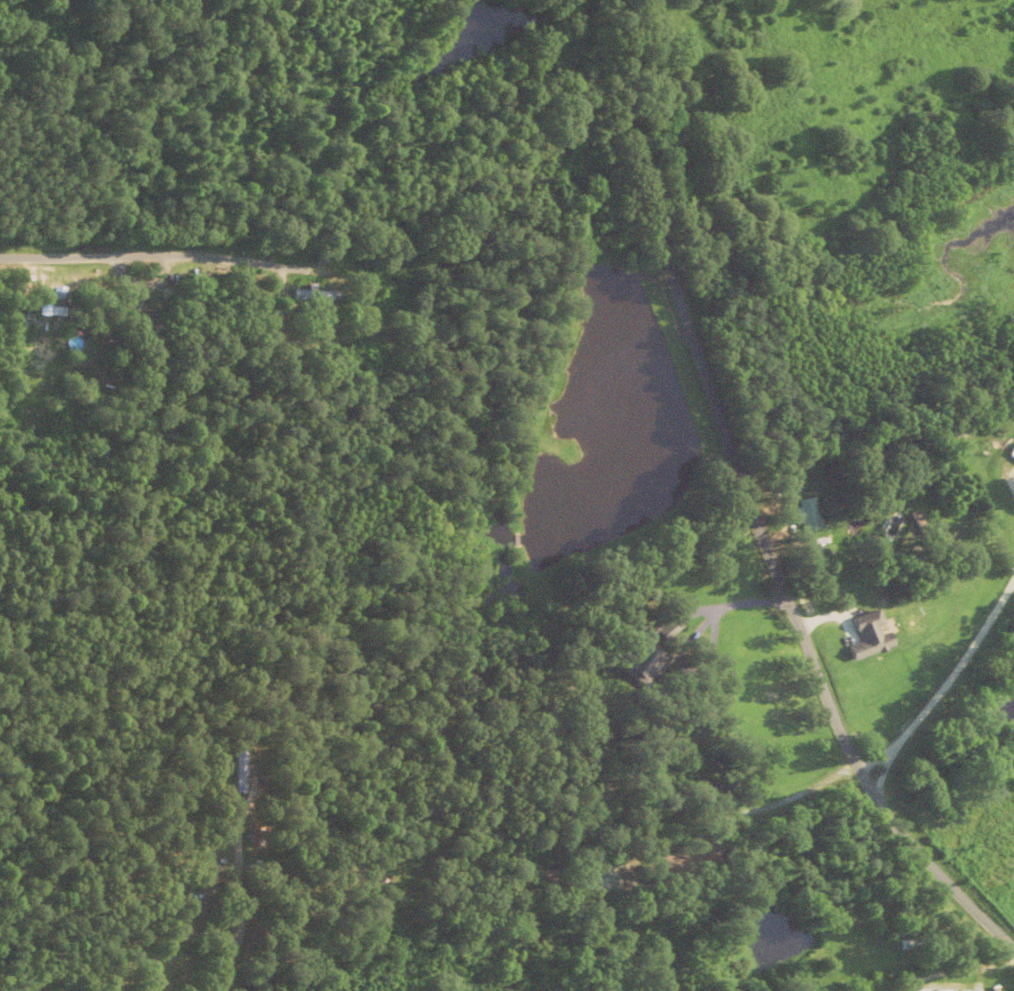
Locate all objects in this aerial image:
road: (149, 257)
building: (317, 296)
building: (142, 333)
building: (1012, 446)
road: (762, 500)
building: (809, 515)
building: (873, 637)
road: (947, 687)
building: (242, 770)
building: (257, 837)
building: (691, 856)
building: (281, 879)
building: (921, 990)
building: (943, 990)

